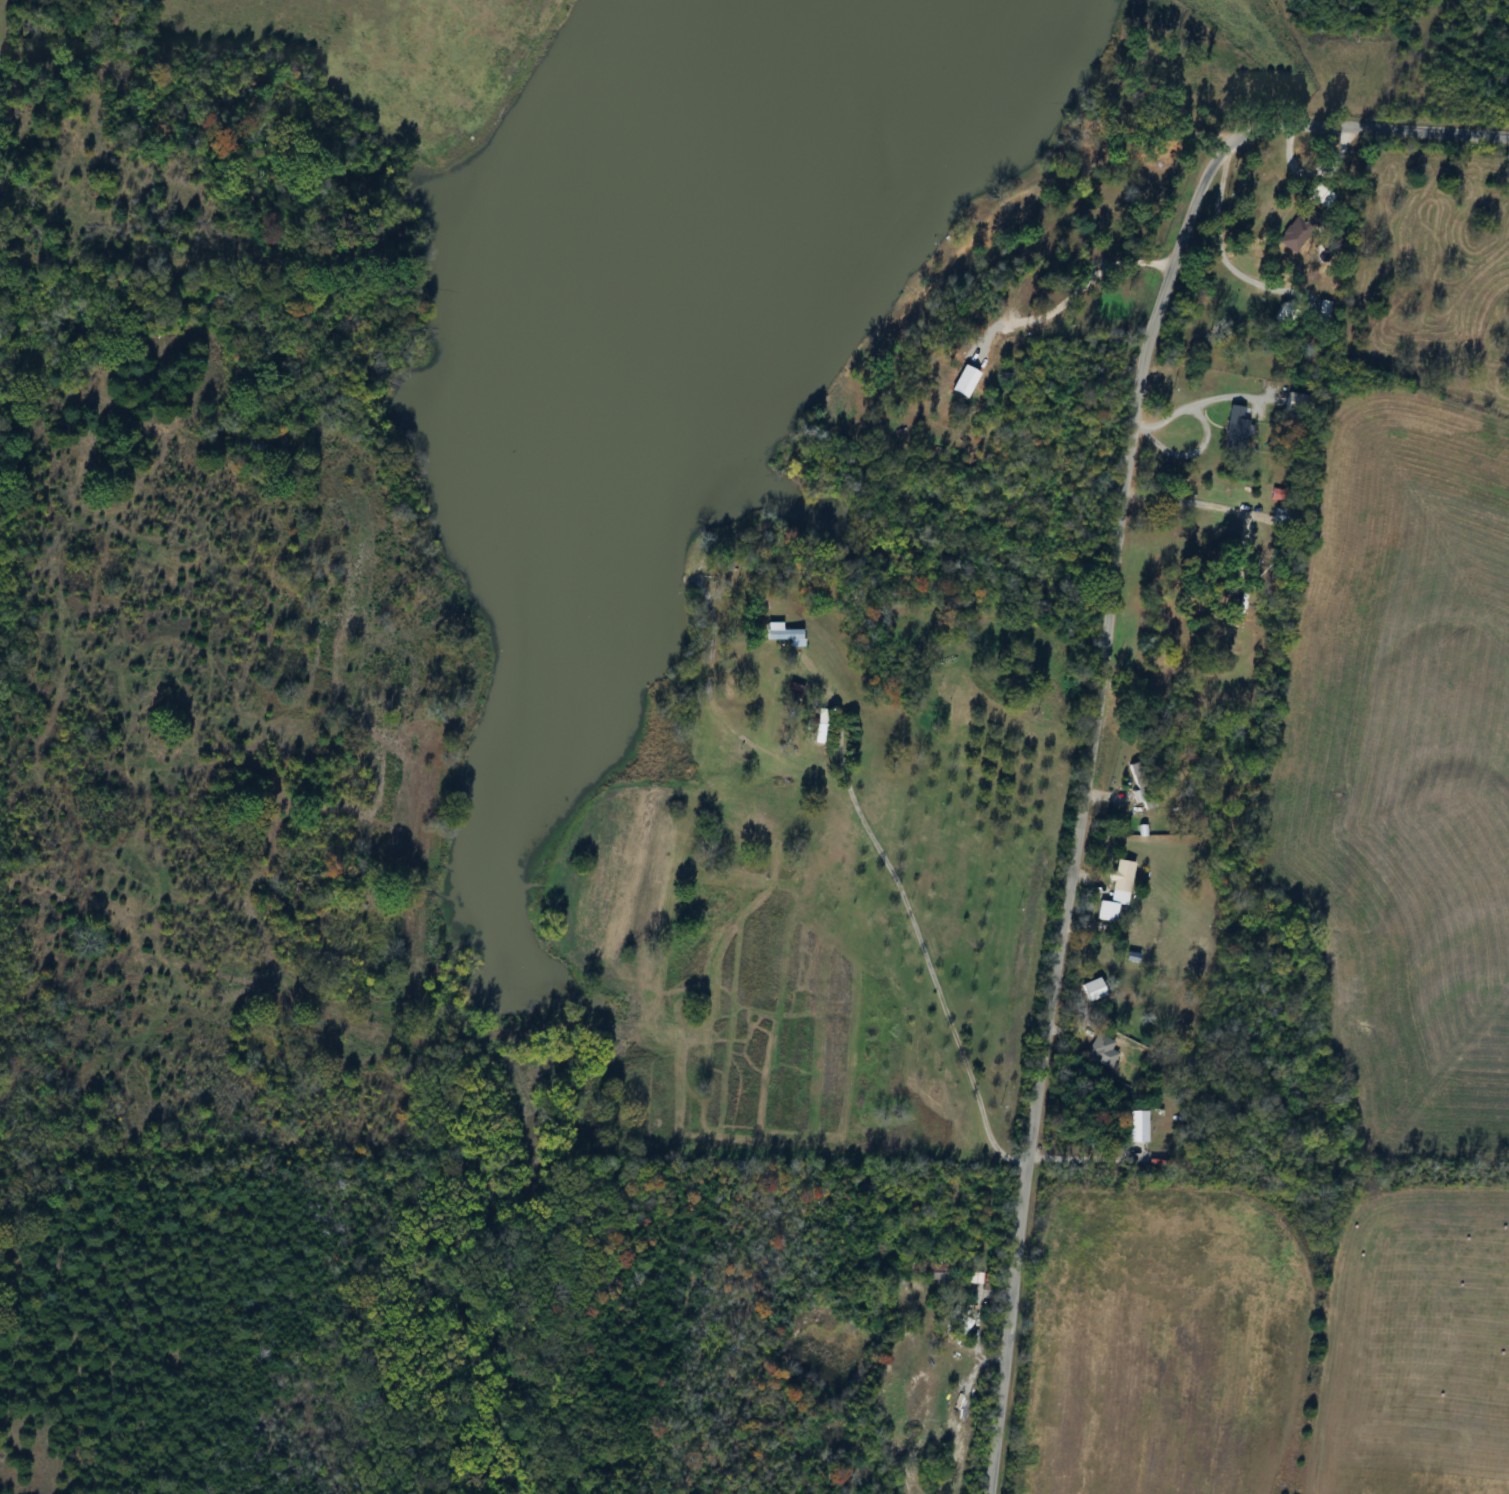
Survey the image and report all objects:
road: (1219, 225)
building: (1291, 236)
road: (1083, 285)
road: (1191, 402)
building: (1233, 429)
road: (1207, 502)
building: (779, 633)
road: (1100, 671)
building: (1113, 892)
road: (914, 917)
building: (1099, 1051)
building: (1135, 1126)
building: (947, 1419)

